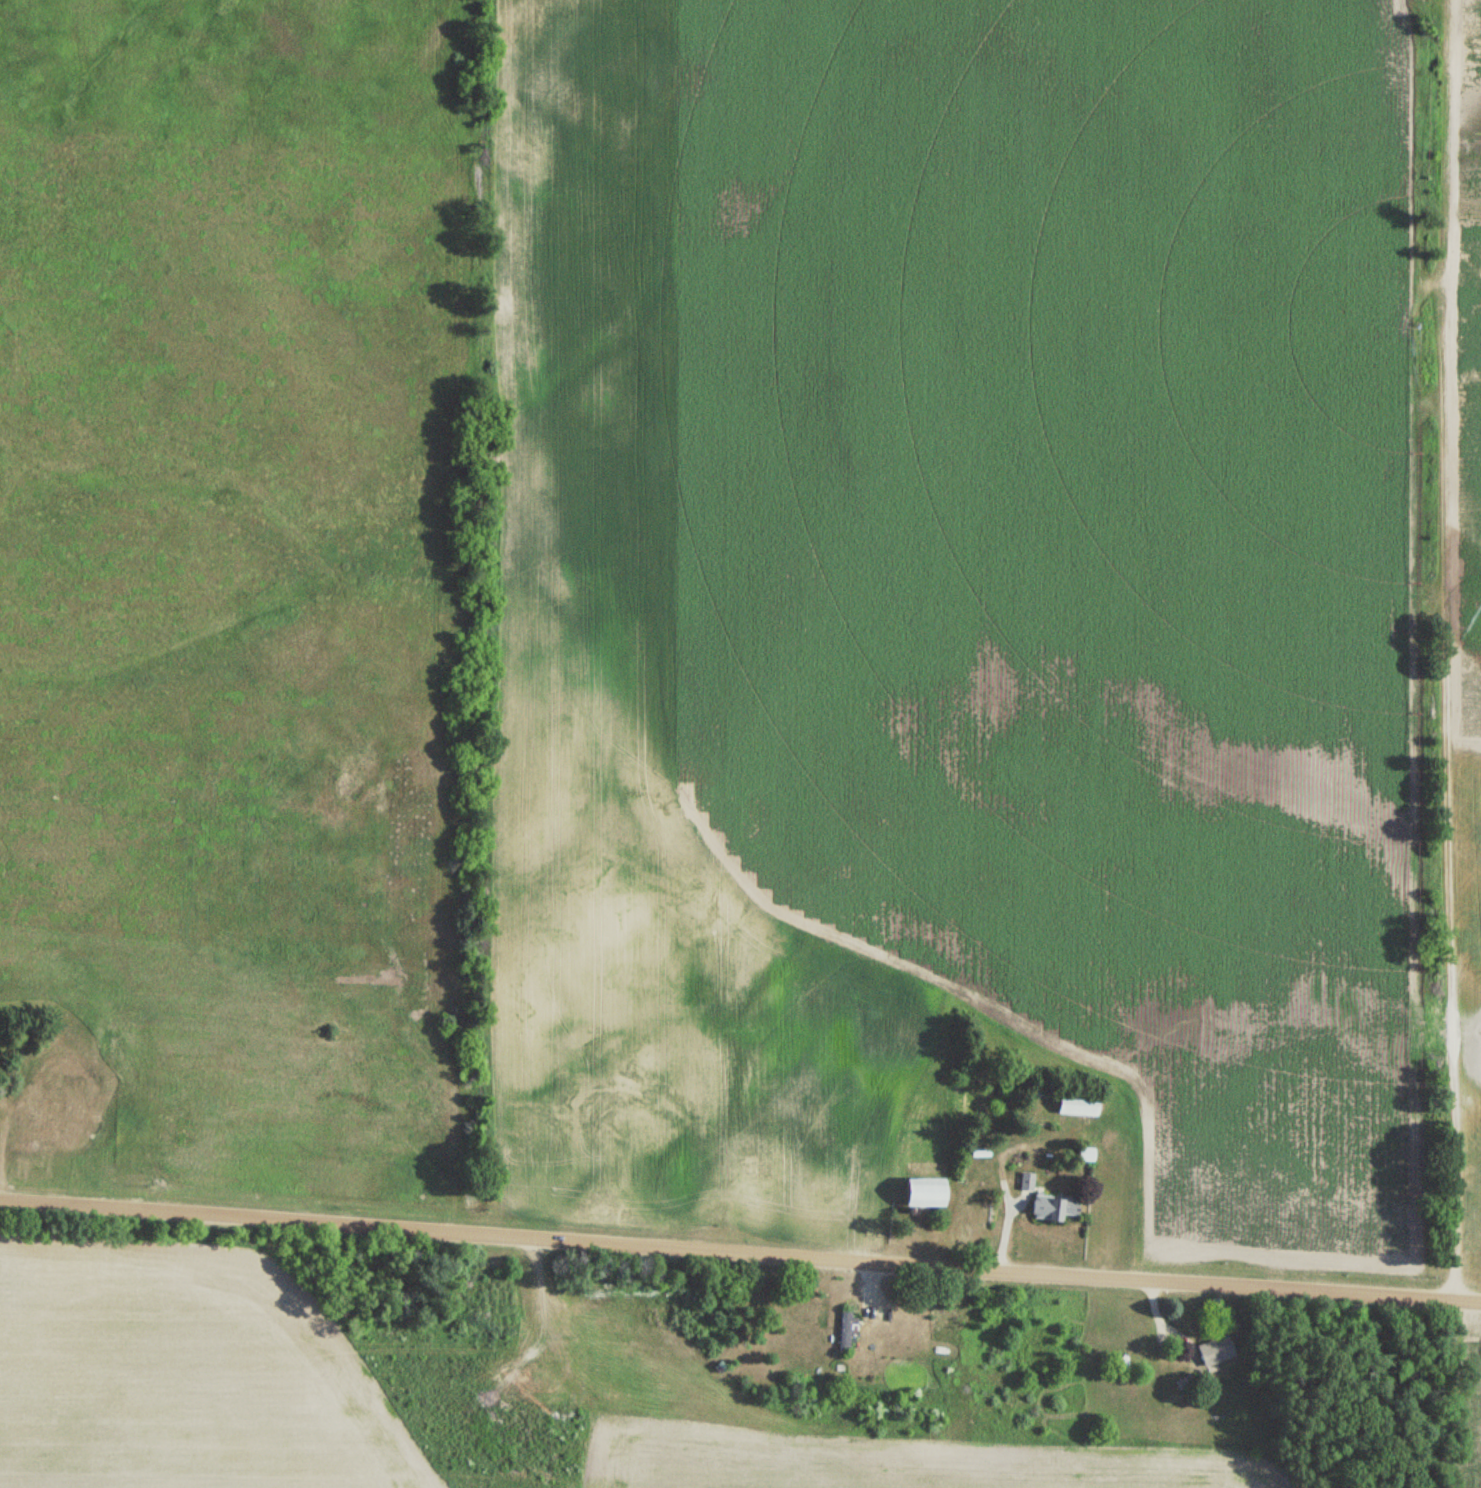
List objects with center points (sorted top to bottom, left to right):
building: (61, 1101)
building: (1074, 1107)
building: (1082, 1156)
building: (1026, 1182)
building: (919, 1194)
building: (1051, 1209)
road: (740, 1253)
building: (844, 1333)
building: (1214, 1351)

